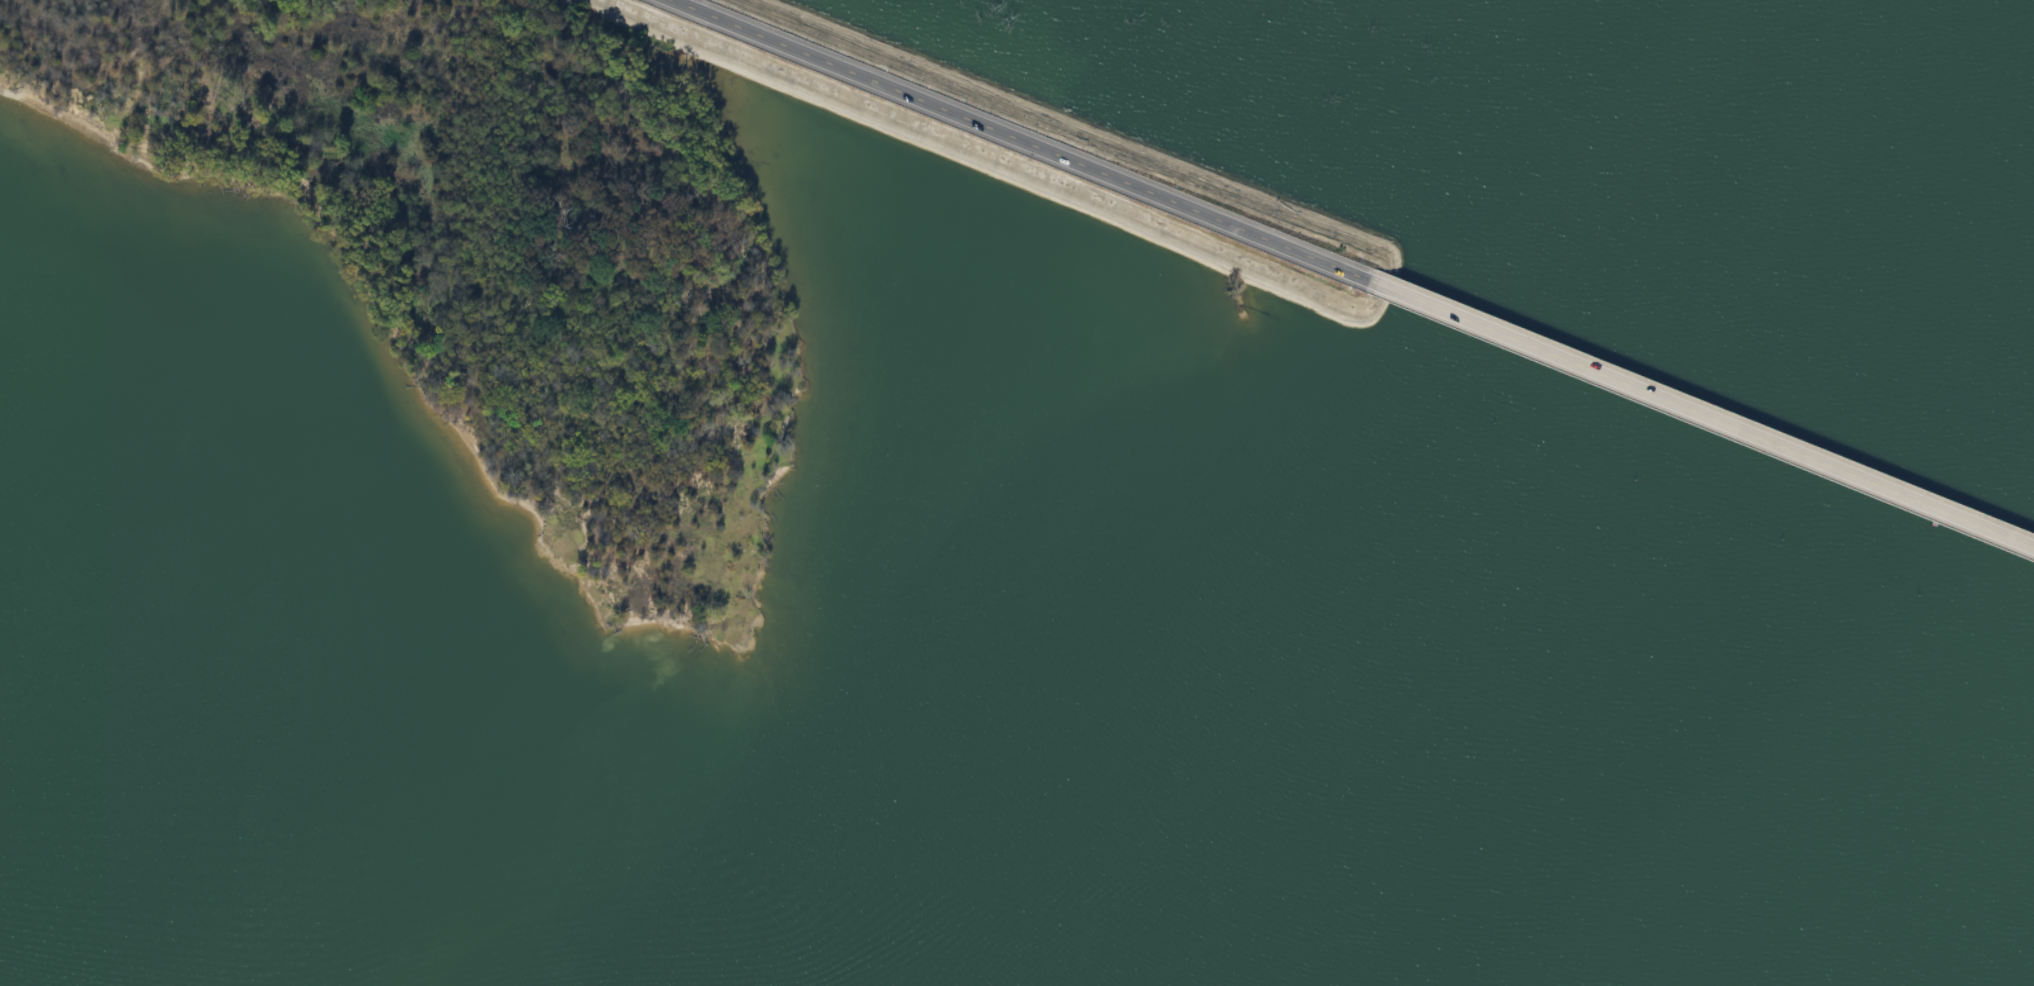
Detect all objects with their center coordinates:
road: (1021, 140)
road: (1702, 415)
river: (1976, 789)

